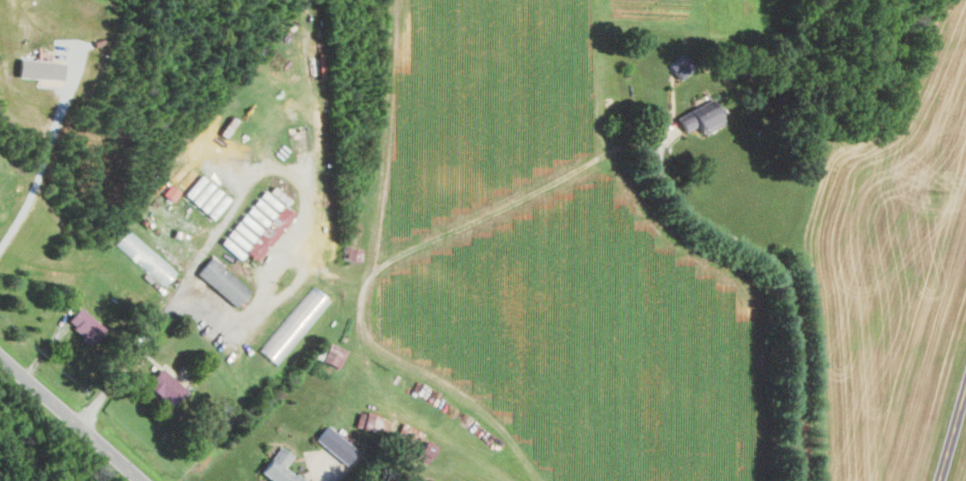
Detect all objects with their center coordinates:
building: (682, 65)
building: (701, 116)
building: (299, 136)
building: (195, 186)
building: (171, 192)
building: (203, 193)
building: (259, 224)
building: (353, 252)
road: (366, 253)
building: (145, 257)
building: (223, 281)
road: (789, 285)
building: (85, 325)
building: (333, 354)
building: (165, 385)
road: (69, 419)
building: (370, 422)
road: (330, 436)
road: (953, 438)
building: (335, 444)
building: (426, 451)
building: (280, 467)

